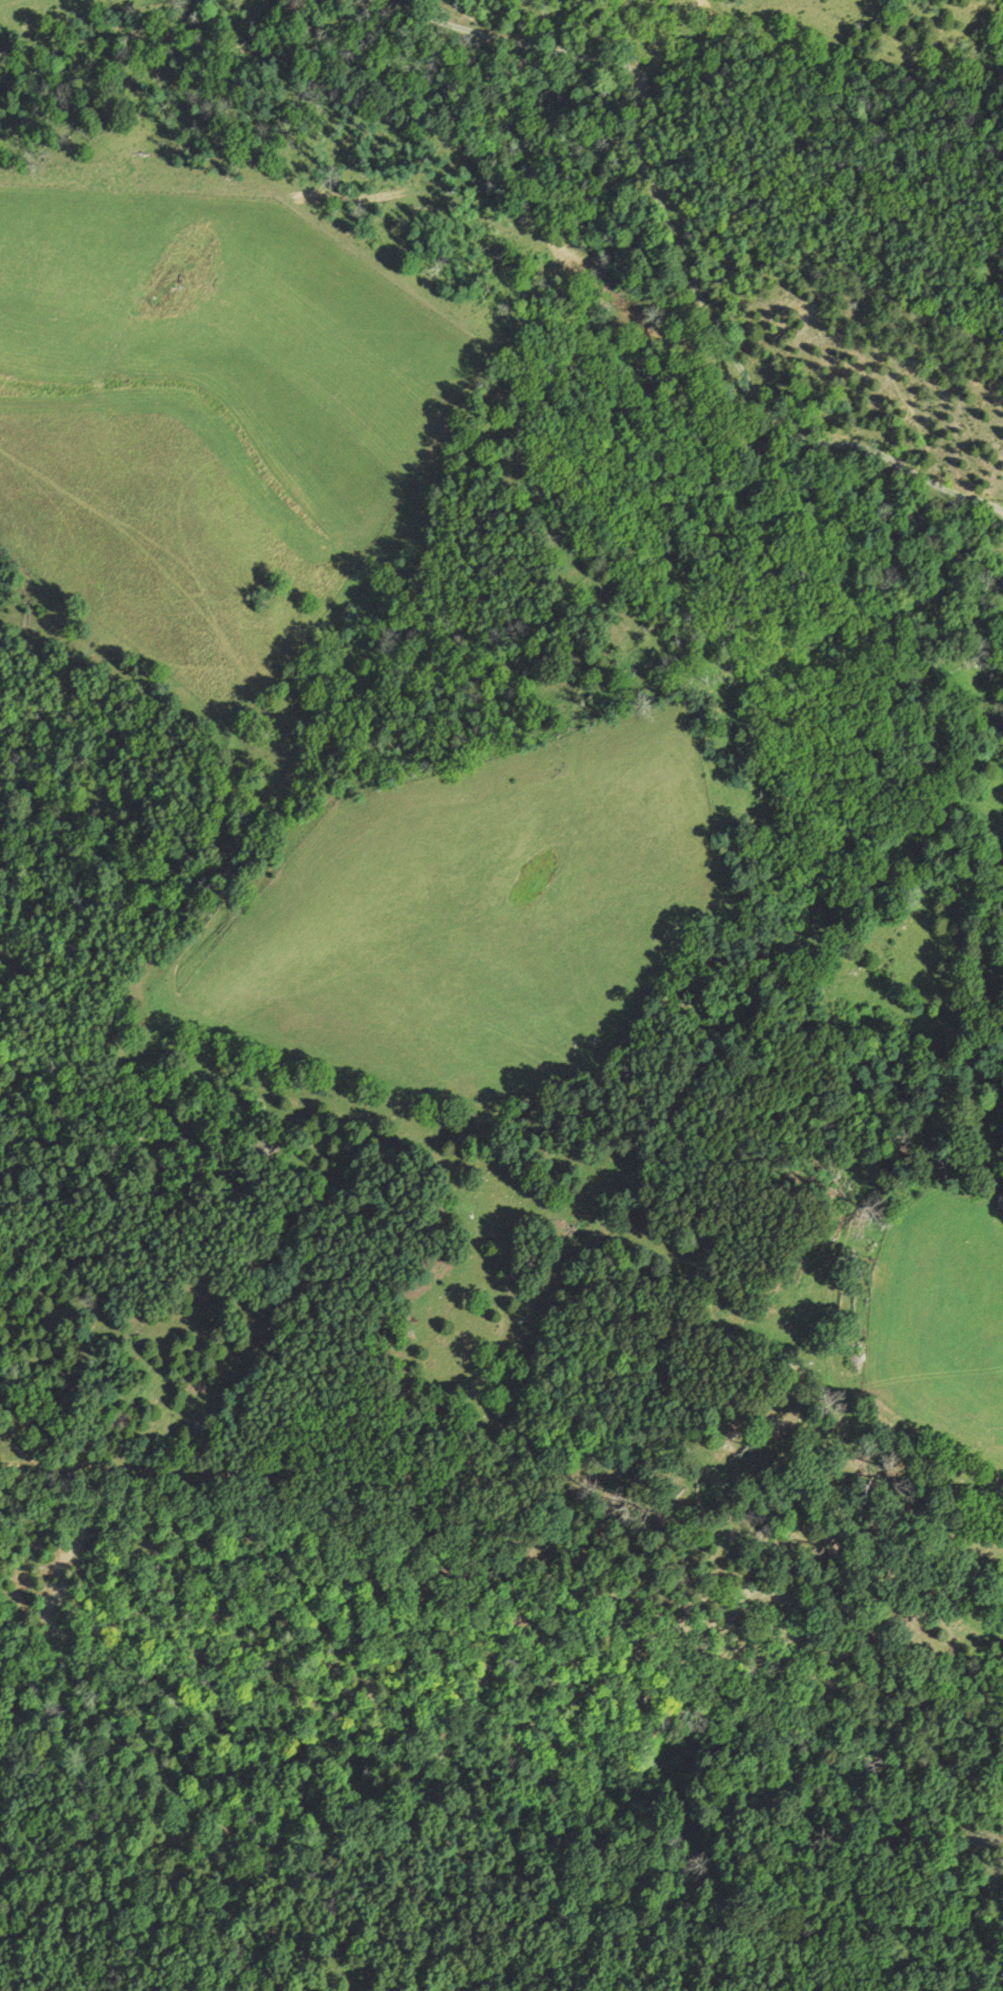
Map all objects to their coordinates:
road: (680, 236)

